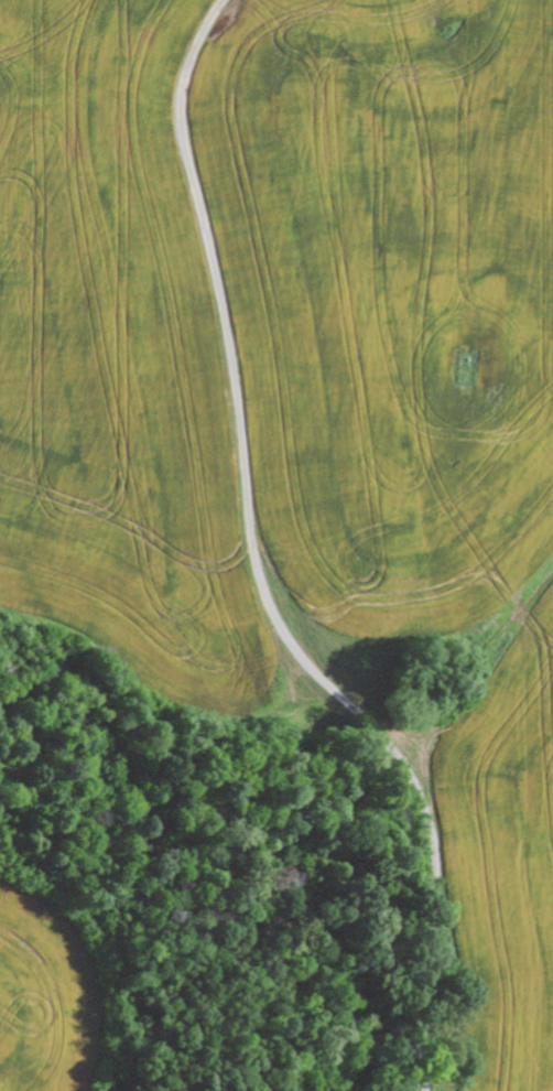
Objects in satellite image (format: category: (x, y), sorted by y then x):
road: (82, 93)
park: (468, 366)
road: (271, 614)

